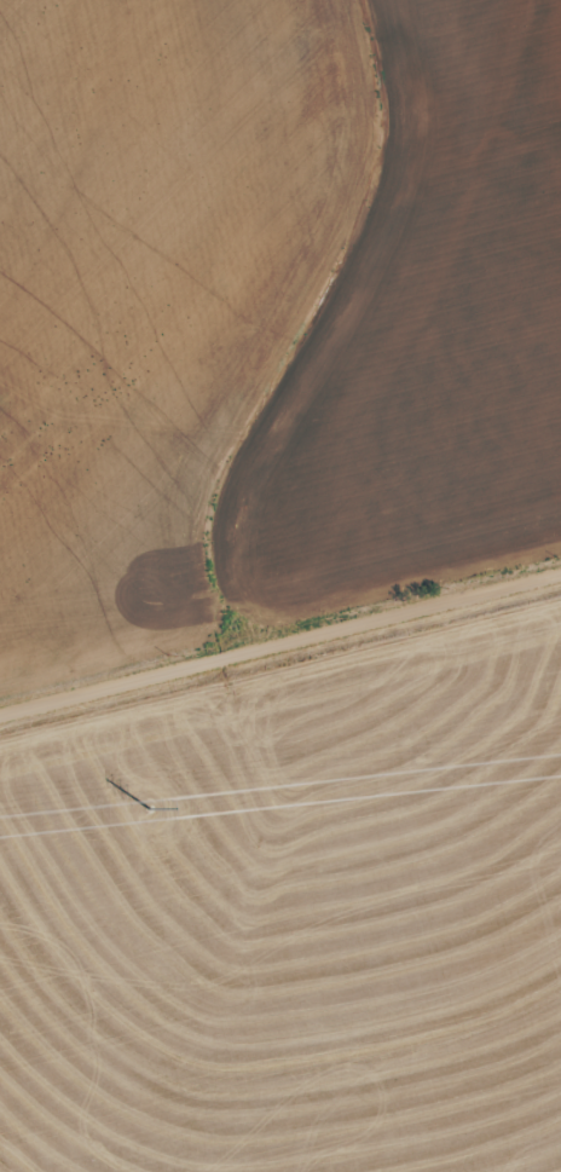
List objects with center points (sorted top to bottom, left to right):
road: (280, 675)
power tower: (152, 809)

